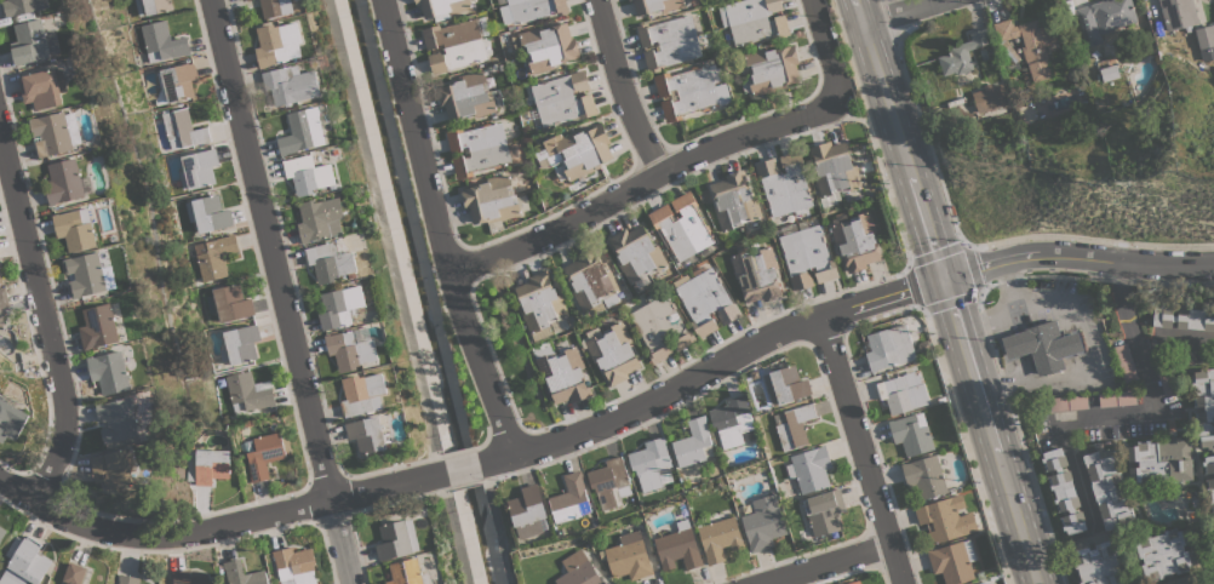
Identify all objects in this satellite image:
building: (244, 0)
building: (630, 0)
building: (657, 5)
building: (22, 6)
building: (151, 6)
building: (276, 7)
building: (442, 7)
building: (531, 10)
road: (910, 13)
building: (1178, 13)
road: (892, 18)
building: (1104, 18)
building: (754, 19)
building: (1204, 35)
building: (34, 41)
building: (669, 41)
building: (162, 42)
road: (823, 42)
building: (1030, 42)
building: (277, 44)
building: (456, 44)
building: (545, 46)
building: (962, 53)
building: (769, 69)
building: (1110, 73)
building: (178, 81)
building: (291, 84)
building: (44, 87)
road: (618, 90)
building: (691, 91)
building: (466, 97)
building: (990, 97)
building: (563, 98)
building: (182, 128)
road: (711, 130)
building: (303, 131)
road: (870, 131)
road: (923, 132)
building: (52, 133)
building: (477, 148)
building: (575, 151)
building: (197, 168)
building: (834, 168)
building: (309, 174)
building: (64, 181)
road: (646, 182)
building: (784, 184)
building: (491, 200)
building: (735, 202)
building: (208, 213)
building: (321, 218)
building: (682, 227)
building: (75, 228)
road: (437, 228)
building: (857, 240)
building: (637, 253)
building: (806, 253)
building: (214, 256)
building: (331, 262)
road: (909, 263)
building: (756, 271)
building: (90, 274)
building: (1, 276)
traffic signals: (941, 279)
building: (591, 280)
road: (282, 291)
road: (945, 292)
road: (980, 292)
building: (4, 297)
building: (705, 299)
building: (231, 303)
building: (340, 307)
road: (44, 309)
building: (1184, 317)
building: (1, 319)
road: (984, 324)
building: (99, 326)
building: (660, 327)
building: (551, 338)
road: (1135, 343)
building: (240, 344)
gas station: (1042, 345)
building: (889, 347)
building: (1041, 347)
building: (351, 348)
building: (612, 350)
road: (993, 354)
building: (1126, 362)
building: (110, 372)
building: (1166, 377)
building: (784, 385)
road: (1003, 385)
building: (248, 391)
building: (903, 393)
building: (362, 394)
building: (1117, 399)
building: (1069, 402)
building: (1204, 406)
road: (605, 411)
road: (1081, 416)
building: (119, 419)
building: (11, 420)
building: (733, 422)
building: (794, 425)
building: (911, 433)
building: (367, 434)
building: (693, 443)
road: (964, 446)
road: (861, 452)
building: (264, 453)
building: (1159, 460)
building: (652, 464)
building: (1208, 464)
building: (207, 465)
building: (114, 468)
building: (811, 468)
building: (926, 476)
building: (611, 482)
building: (1107, 487)
building: (1064, 489)
road: (1035, 492)
building: (1210, 492)
building: (571, 499)
building: (528, 511)
building: (825, 511)
building: (945, 519)
building: (1213, 520)
building: (761, 525)
building: (2, 532)
building: (718, 538)
building: (397, 539)
building: (678, 546)
building: (1163, 554)
building: (629, 556)
building: (952, 561)
building: (1098, 562)
road: (823, 563)
building: (27, 565)
building: (296, 566)
building: (578, 569)
building: (407, 572)
building: (74, 573)
building: (242, 573)
building: (189, 577)
building: (128, 579)
building: (984, 582)
building: (1185, 582)
building: (855, 583)

